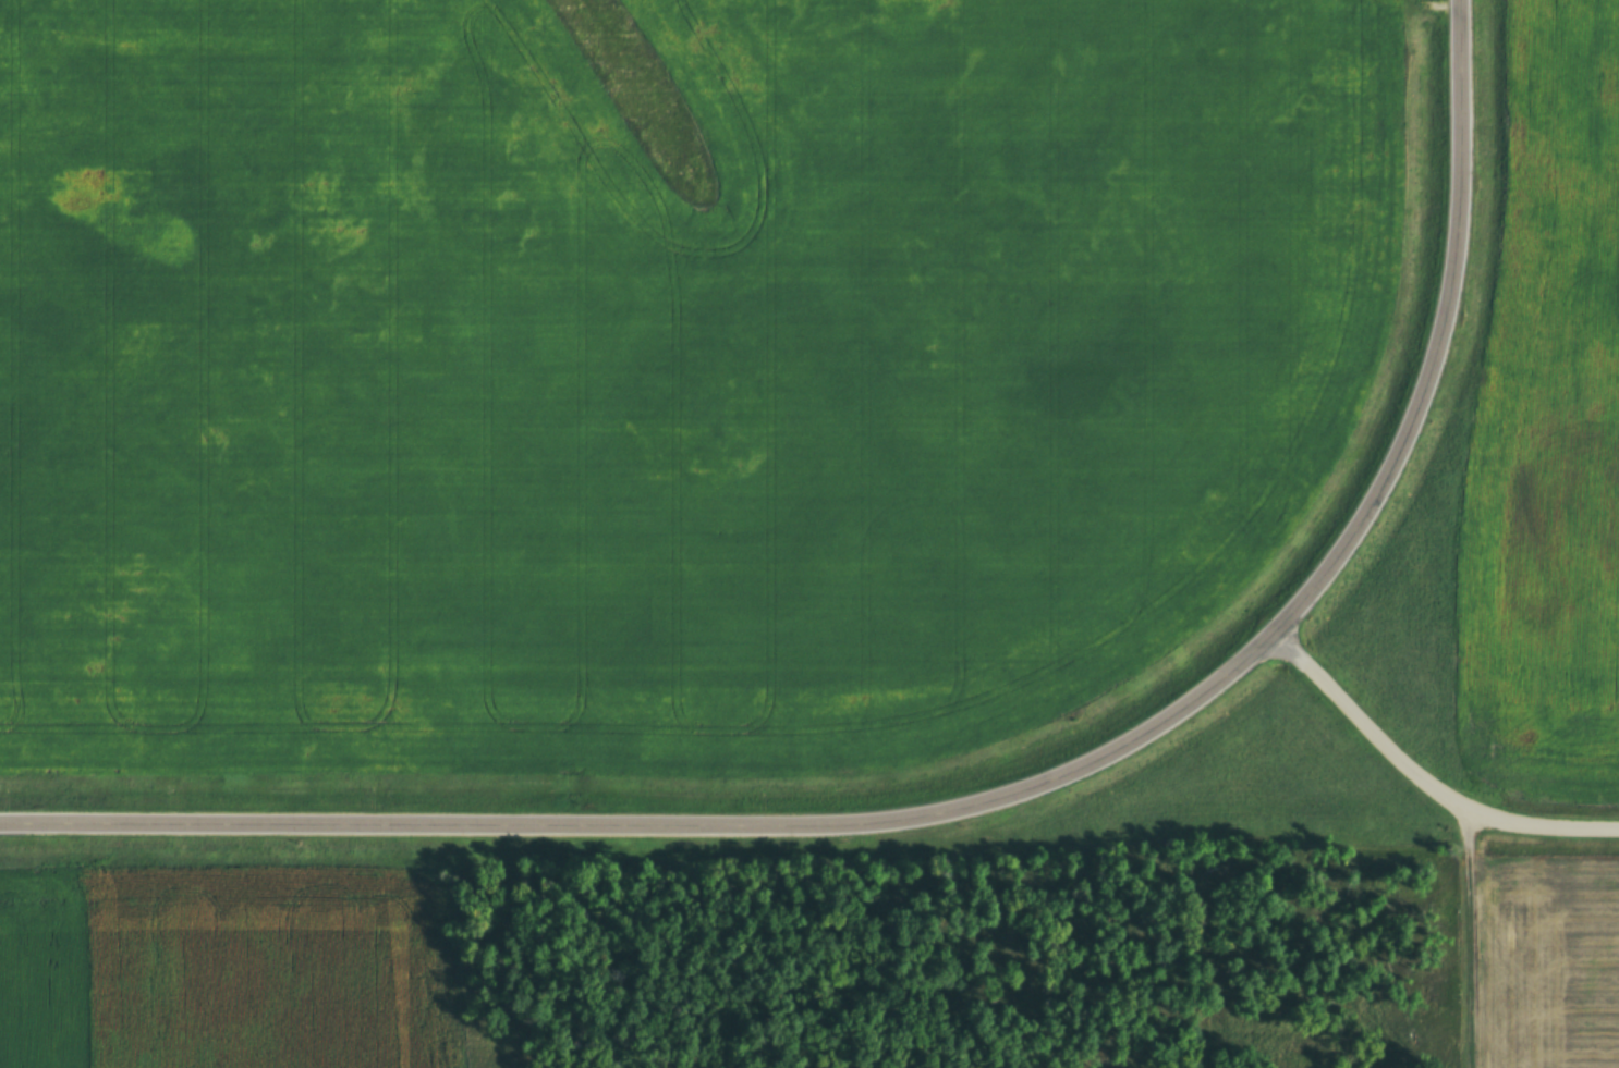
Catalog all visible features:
road: (1421, 778)
road: (1000, 797)

